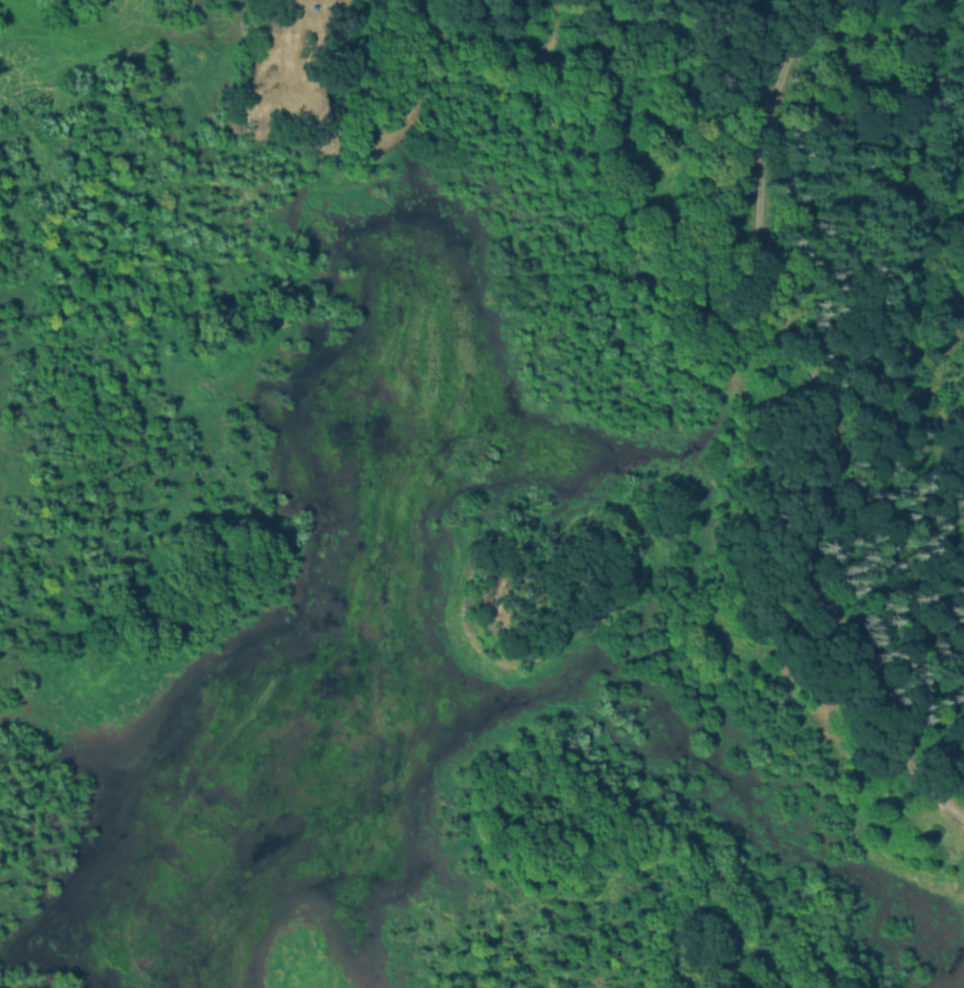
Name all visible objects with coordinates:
road: (834, 432)

